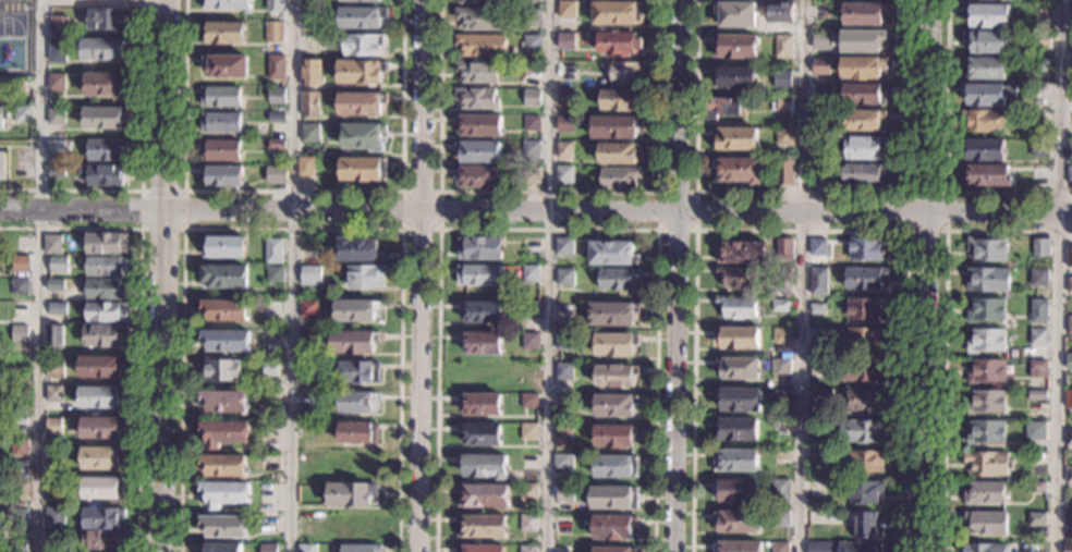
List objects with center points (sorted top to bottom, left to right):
road: (153, 0)
building: (362, 0)
building: (535, 0)
building: (480, 1)
building: (229, 4)
building: (275, 5)
building: (565, 10)
building: (820, 12)
building: (617, 13)
building: (779, 13)
building: (864, 13)
building: (1041, 14)
building: (1071, 14)
building: (309, 15)
building: (736, 15)
building: (988, 15)
building: (106, 17)
building: (362, 17)
building: (532, 17)
building: (478, 19)
building: (58, 26)
building: (273, 32)
building: (223, 33)
building: (820, 39)
building: (565, 40)
building: (863, 40)
building: (1041, 40)
building: (1070, 40)
building: (986, 41)
building: (308, 42)
building: (363, 44)
building: (532, 44)
building: (618, 44)
building: (482, 45)
building: (782, 46)
building: (734, 47)
building: (105, 49)
building: (57, 50)
building: (226, 65)
building: (819, 66)
building: (1070, 66)
building: (276, 68)
building: (532, 68)
building: (862, 68)
building: (985, 68)
building: (1043, 68)
building: (362, 71)
building: (477, 72)
building: (310, 73)
building: (625, 73)
building: (735, 77)
building: (781, 79)
building: (57, 82)
building: (106, 85)
building: (21, 86)
building: (823, 93)
building: (864, 94)
building: (987, 94)
building: (276, 96)
building: (220, 97)
building: (476, 98)
building: (531, 98)
building: (565, 98)
building: (1070, 98)
building: (620, 99)
building: (309, 103)
building: (361, 105)
building: (772, 107)
building: (783, 107)
building: (722, 108)
building: (23, 114)
building: (2, 116)
building: (57, 116)
building: (275, 116)
building: (107, 119)
building: (818, 119)
building: (864, 120)
building: (983, 121)
building: (1040, 121)
building: (1070, 121)
building: (220, 123)
building: (531, 124)
building: (564, 124)
building: (479, 125)
building: (613, 126)
building: (27, 133)
building: (309, 133)
building: (363, 137)
building: (783, 137)
building: (734, 139)
building: (276, 145)
building: (57, 146)
building: (818, 146)
building: (865, 147)
building: (1070, 147)
building: (1039, 148)
building: (531, 149)
building: (106, 150)
building: (220, 150)
building: (563, 150)
building: (983, 150)
building: (476, 151)
building: (618, 152)
road: (942, 161)
road: (138, 163)
building: (2, 165)
building: (305, 167)
building: (360, 170)
building: (738, 170)
building: (56, 171)
building: (783, 172)
building: (102, 174)
building: (563, 174)
building: (863, 174)
building: (1069, 174)
building: (276, 175)
building: (531, 175)
building: (985, 175)
building: (223, 176)
building: (476, 176)
building: (619, 179)
road: (160, 191)
road: (292, 191)
road: (547, 192)
road: (799, 193)
road: (464, 210)
road: (1000, 211)
road: (692, 229)
road: (161, 230)
road: (291, 230)
road: (436, 230)
road: (545, 230)
road: (797, 230)
road: (905, 231)
building: (106, 244)
building: (52, 245)
building: (563, 246)
building: (0, 247)
building: (222, 247)
building: (529, 247)
building: (816, 247)
building: (478, 248)
building: (782, 248)
building: (867, 248)
building: (1040, 248)
building: (356, 249)
building: (986, 249)
building: (272, 252)
building: (740, 253)
building: (611, 254)
building: (308, 257)
building: (1068, 257)
building: (21, 261)
building: (58, 265)
building: (105, 266)
building: (275, 274)
building: (529, 274)
road: (35, 275)
road: (160, 275)
road: (289, 275)
building: (309, 275)
road: (417, 275)
building: (478, 275)
road: (545, 275)
road: (675, 275)
road: (801, 275)
road: (928, 275)
road: (1055, 275)
building: (223, 277)
building: (780, 277)
building: (366, 278)
building: (563, 278)
building: (736, 278)
building: (863, 278)
building: (617, 279)
building: (1038, 279)
building: (987, 280)
building: (817, 281)
building: (56, 285)
building: (1069, 286)
building: (20, 287)
building: (106, 290)
building: (779, 305)
building: (736, 307)
building: (57, 308)
building: (308, 308)
building: (529, 309)
building: (816, 309)
building: (864, 309)
building: (20, 310)
building: (226, 310)
building: (271, 310)
building: (563, 310)
building: (985, 310)
building: (355, 311)
building: (1038, 311)
building: (106, 312)
building: (482, 312)
building: (612, 312)
road: (139, 320)
building: (1069, 324)
road: (942, 327)
building: (20, 333)
building: (103, 335)
building: (53, 336)
building: (779, 336)
building: (817, 338)
building: (1037, 338)
building: (308, 339)
building: (739, 339)
building: (864, 340)
building: (226, 341)
building: (529, 341)
building: (985, 341)
building: (354, 342)
building: (564, 342)
building: (480, 343)
building: (616, 343)
building: (1069, 363)
building: (100, 367)
building: (779, 367)
building: (817, 367)
building: (54, 369)
building: (270, 369)
building: (307, 369)
building: (739, 369)
building: (1037, 369)
building: (861, 370)
building: (221, 371)
building: (358, 371)
building: (562, 371)
building: (985, 371)
building: (483, 375)
building: (614, 375)
building: (53, 394)
building: (819, 394)
building: (1036, 395)
building: (101, 397)
building: (779, 397)
building: (1068, 398)
building: (307, 400)
building: (739, 400)
building: (528, 401)
building: (224, 402)
building: (358, 402)
building: (865, 402)
building: (985, 402)
building: (482, 404)
building: (614, 405)
building: (20, 424)
building: (816, 425)
building: (53, 427)
building: (102, 428)
building: (1036, 428)
building: (736, 429)
building: (862, 431)
building: (224, 432)
building: (529, 432)
building: (985, 432)
building: (358, 433)
building: (480, 434)
building: (562, 436)
building: (614, 436)
building: (1068, 439)
building: (19, 447)
building: (815, 454)
building: (52, 456)
building: (780, 457)
building: (101, 458)
building: (307, 461)
building: (735, 461)
building: (861, 462)
building: (357, 463)
building: (528, 463)
building: (562, 463)
building: (988, 464)
building: (1037, 464)
building: (224, 465)
building: (270, 465)
building: (483, 466)
building: (616, 466)
building: (19, 469)
building: (1069, 476)
building: (52, 486)
building: (103, 488)
building: (1034, 488)
building: (815, 489)
building: (736, 491)
building: (780, 491)
building: (863, 491)
building: (19, 492)
building: (528, 492)
building: (267, 493)
building: (564, 493)
building: (984, 493)
building: (226, 494)
building: (351, 494)
building: (483, 495)
building: (614, 498)
building: (17, 514)
building: (1068, 514)
building: (54, 516)
building: (816, 517)
building: (101, 518)
building: (780, 518)
building: (1023, 519)
building: (1036, 519)
building: (735, 522)
building: (528, 524)
building: (986, 524)
building: (269, 525)
building: (224, 526)
building: (482, 526)
building: (612, 526)
building: (864, 526)
building: (54, 537)
building: (102, 540)
building: (19, 547)
building: (738, 547)
building: (779, 547)
building: (818, 547)
building: (858, 547)
building: (221, 548)
building: (479, 548)
building: (984, 548)
building: (1068, 548)
building: (269, 549)
building: (307, 549)
building: (361, 549)
building: (527, 549)
building: (614, 549)

